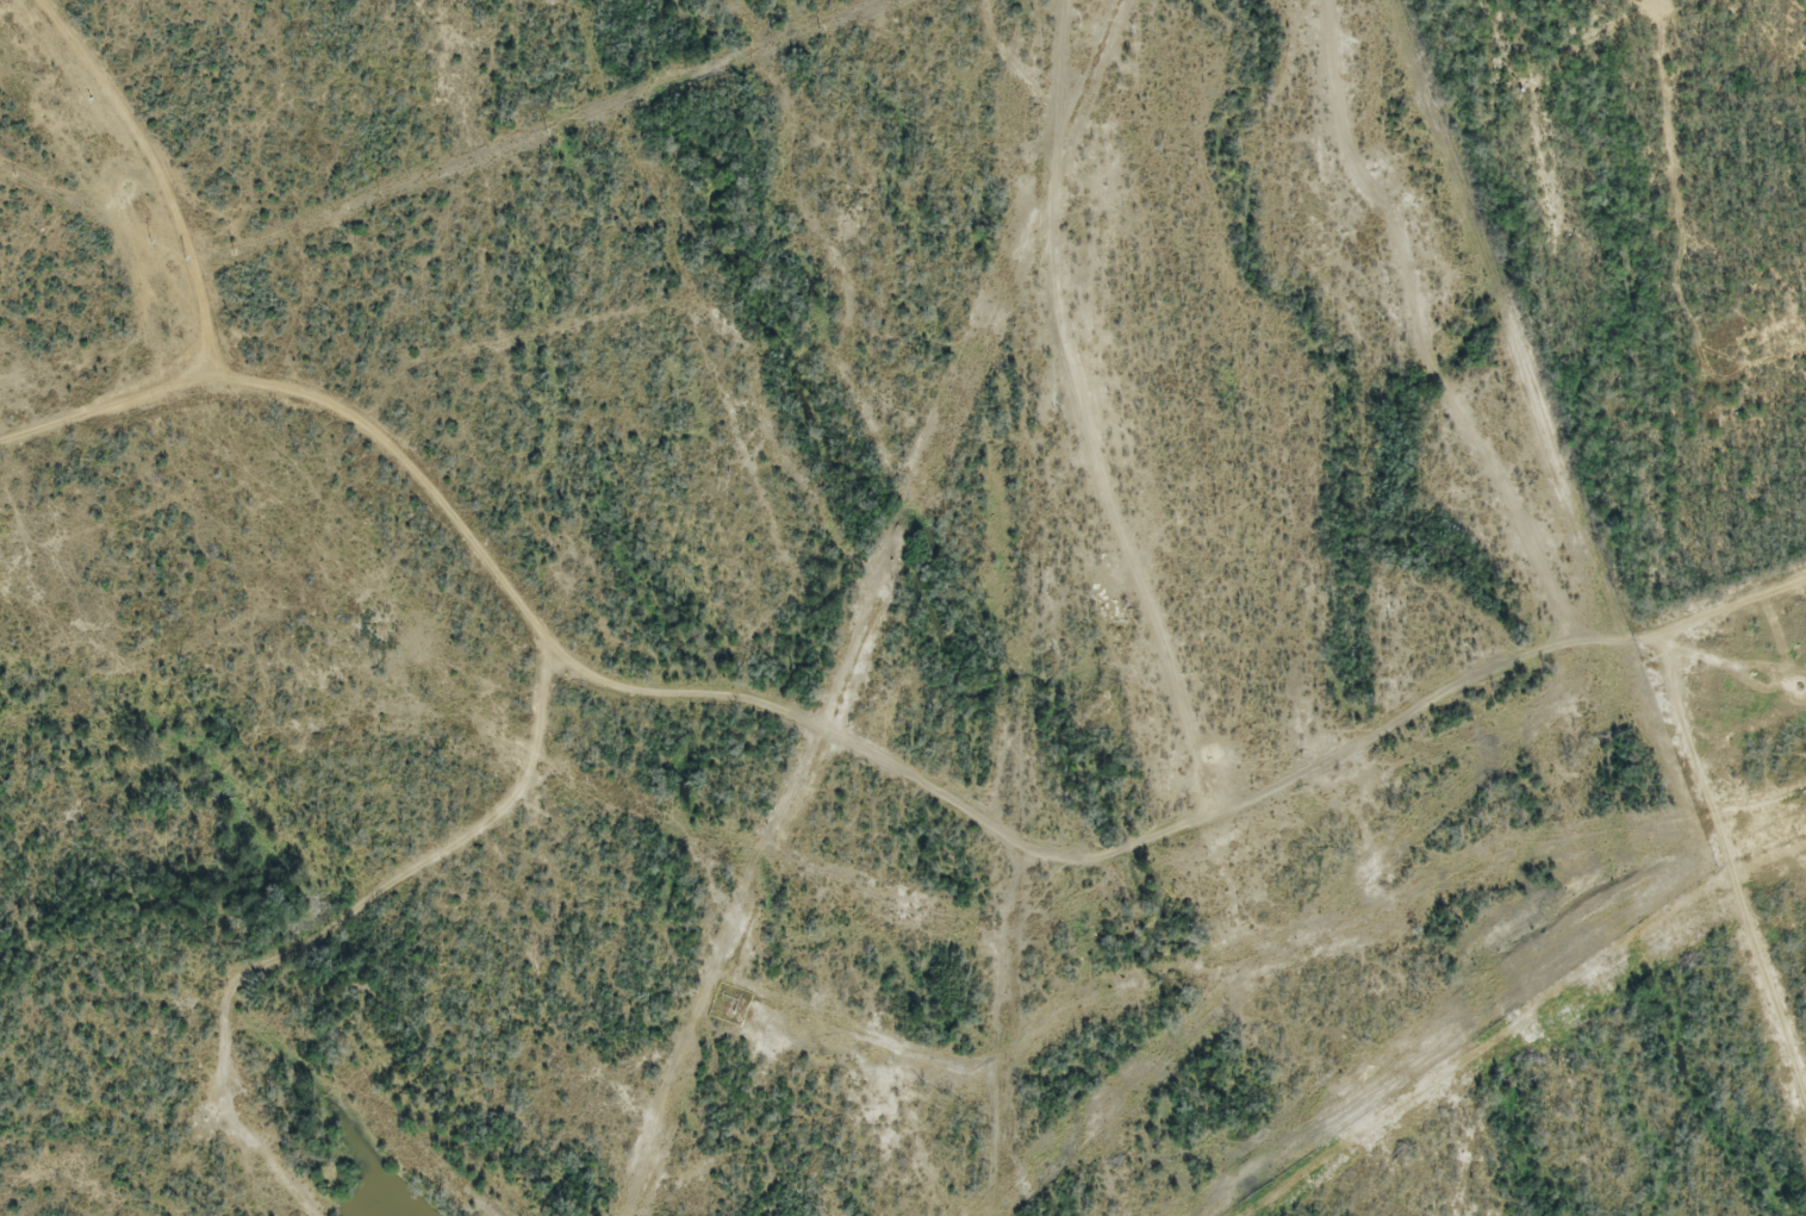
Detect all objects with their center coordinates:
road: (343, 460)

